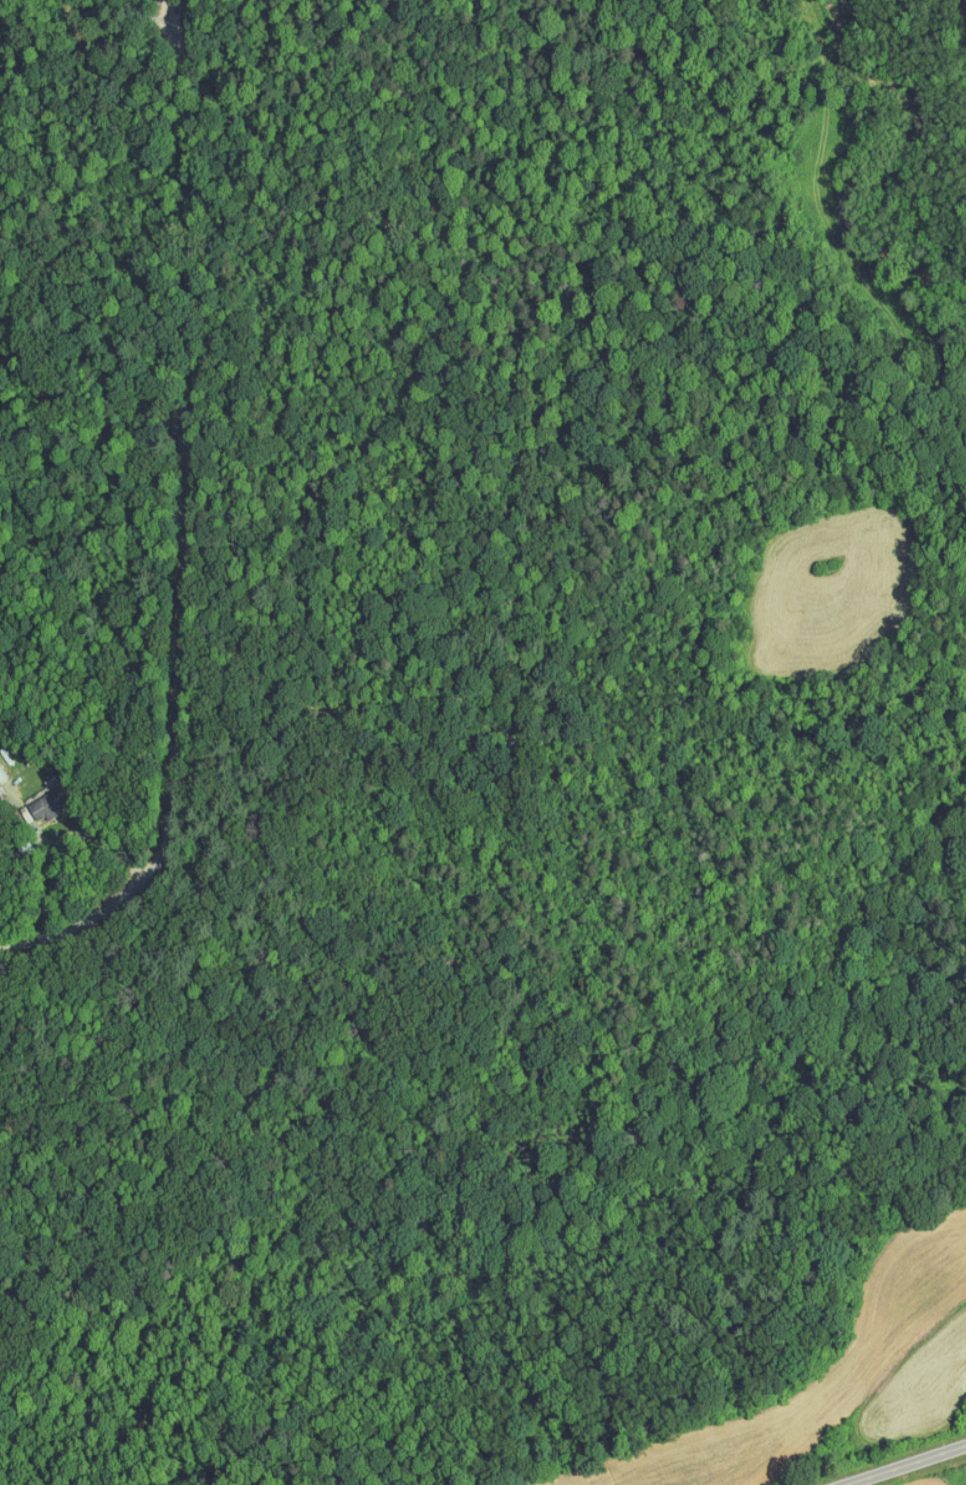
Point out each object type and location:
road: (173, 16)
road: (197, 204)
road: (105, 324)
road: (186, 751)
building: (41, 798)
road: (908, 1466)

